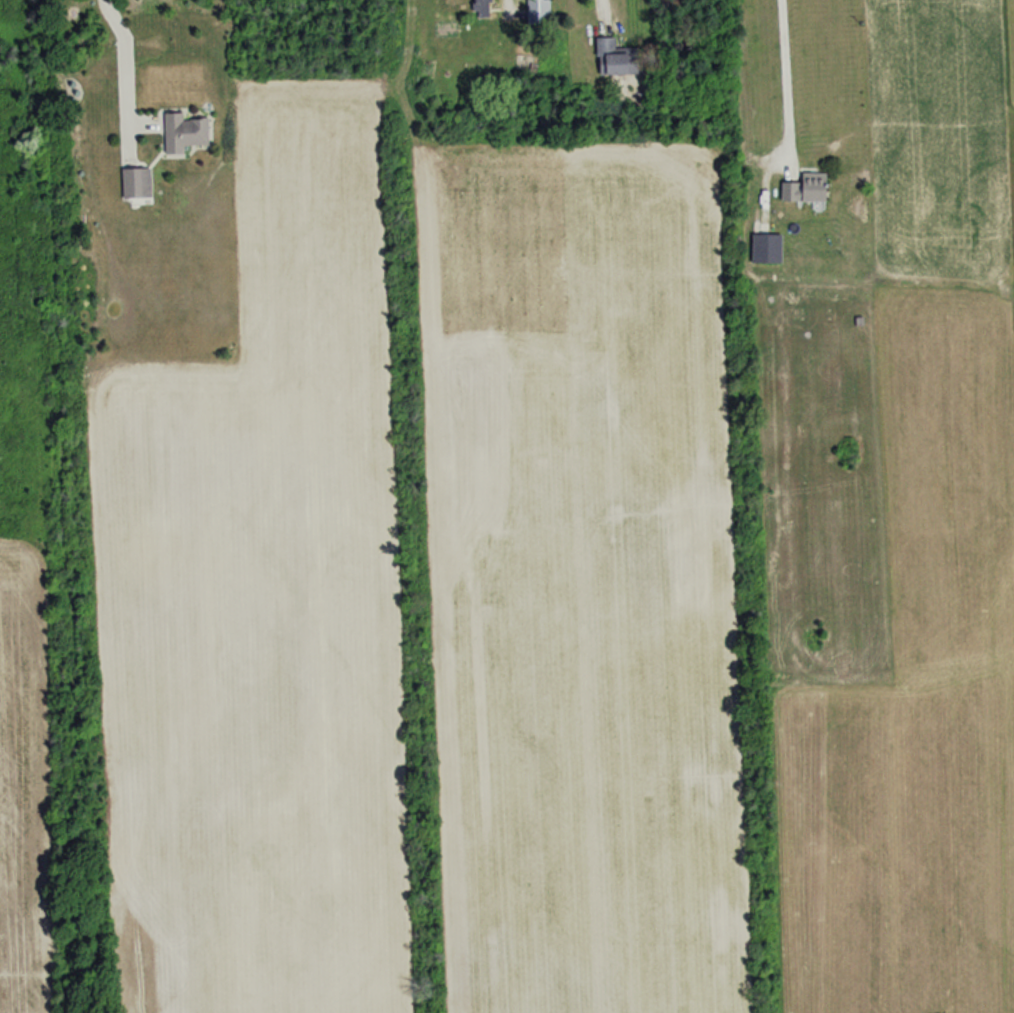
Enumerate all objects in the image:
building: (479, 6)
building: (537, 12)
road: (125, 57)
building: (609, 58)
road: (784, 76)
building: (183, 133)
building: (137, 184)
building: (804, 189)
building: (763, 250)

